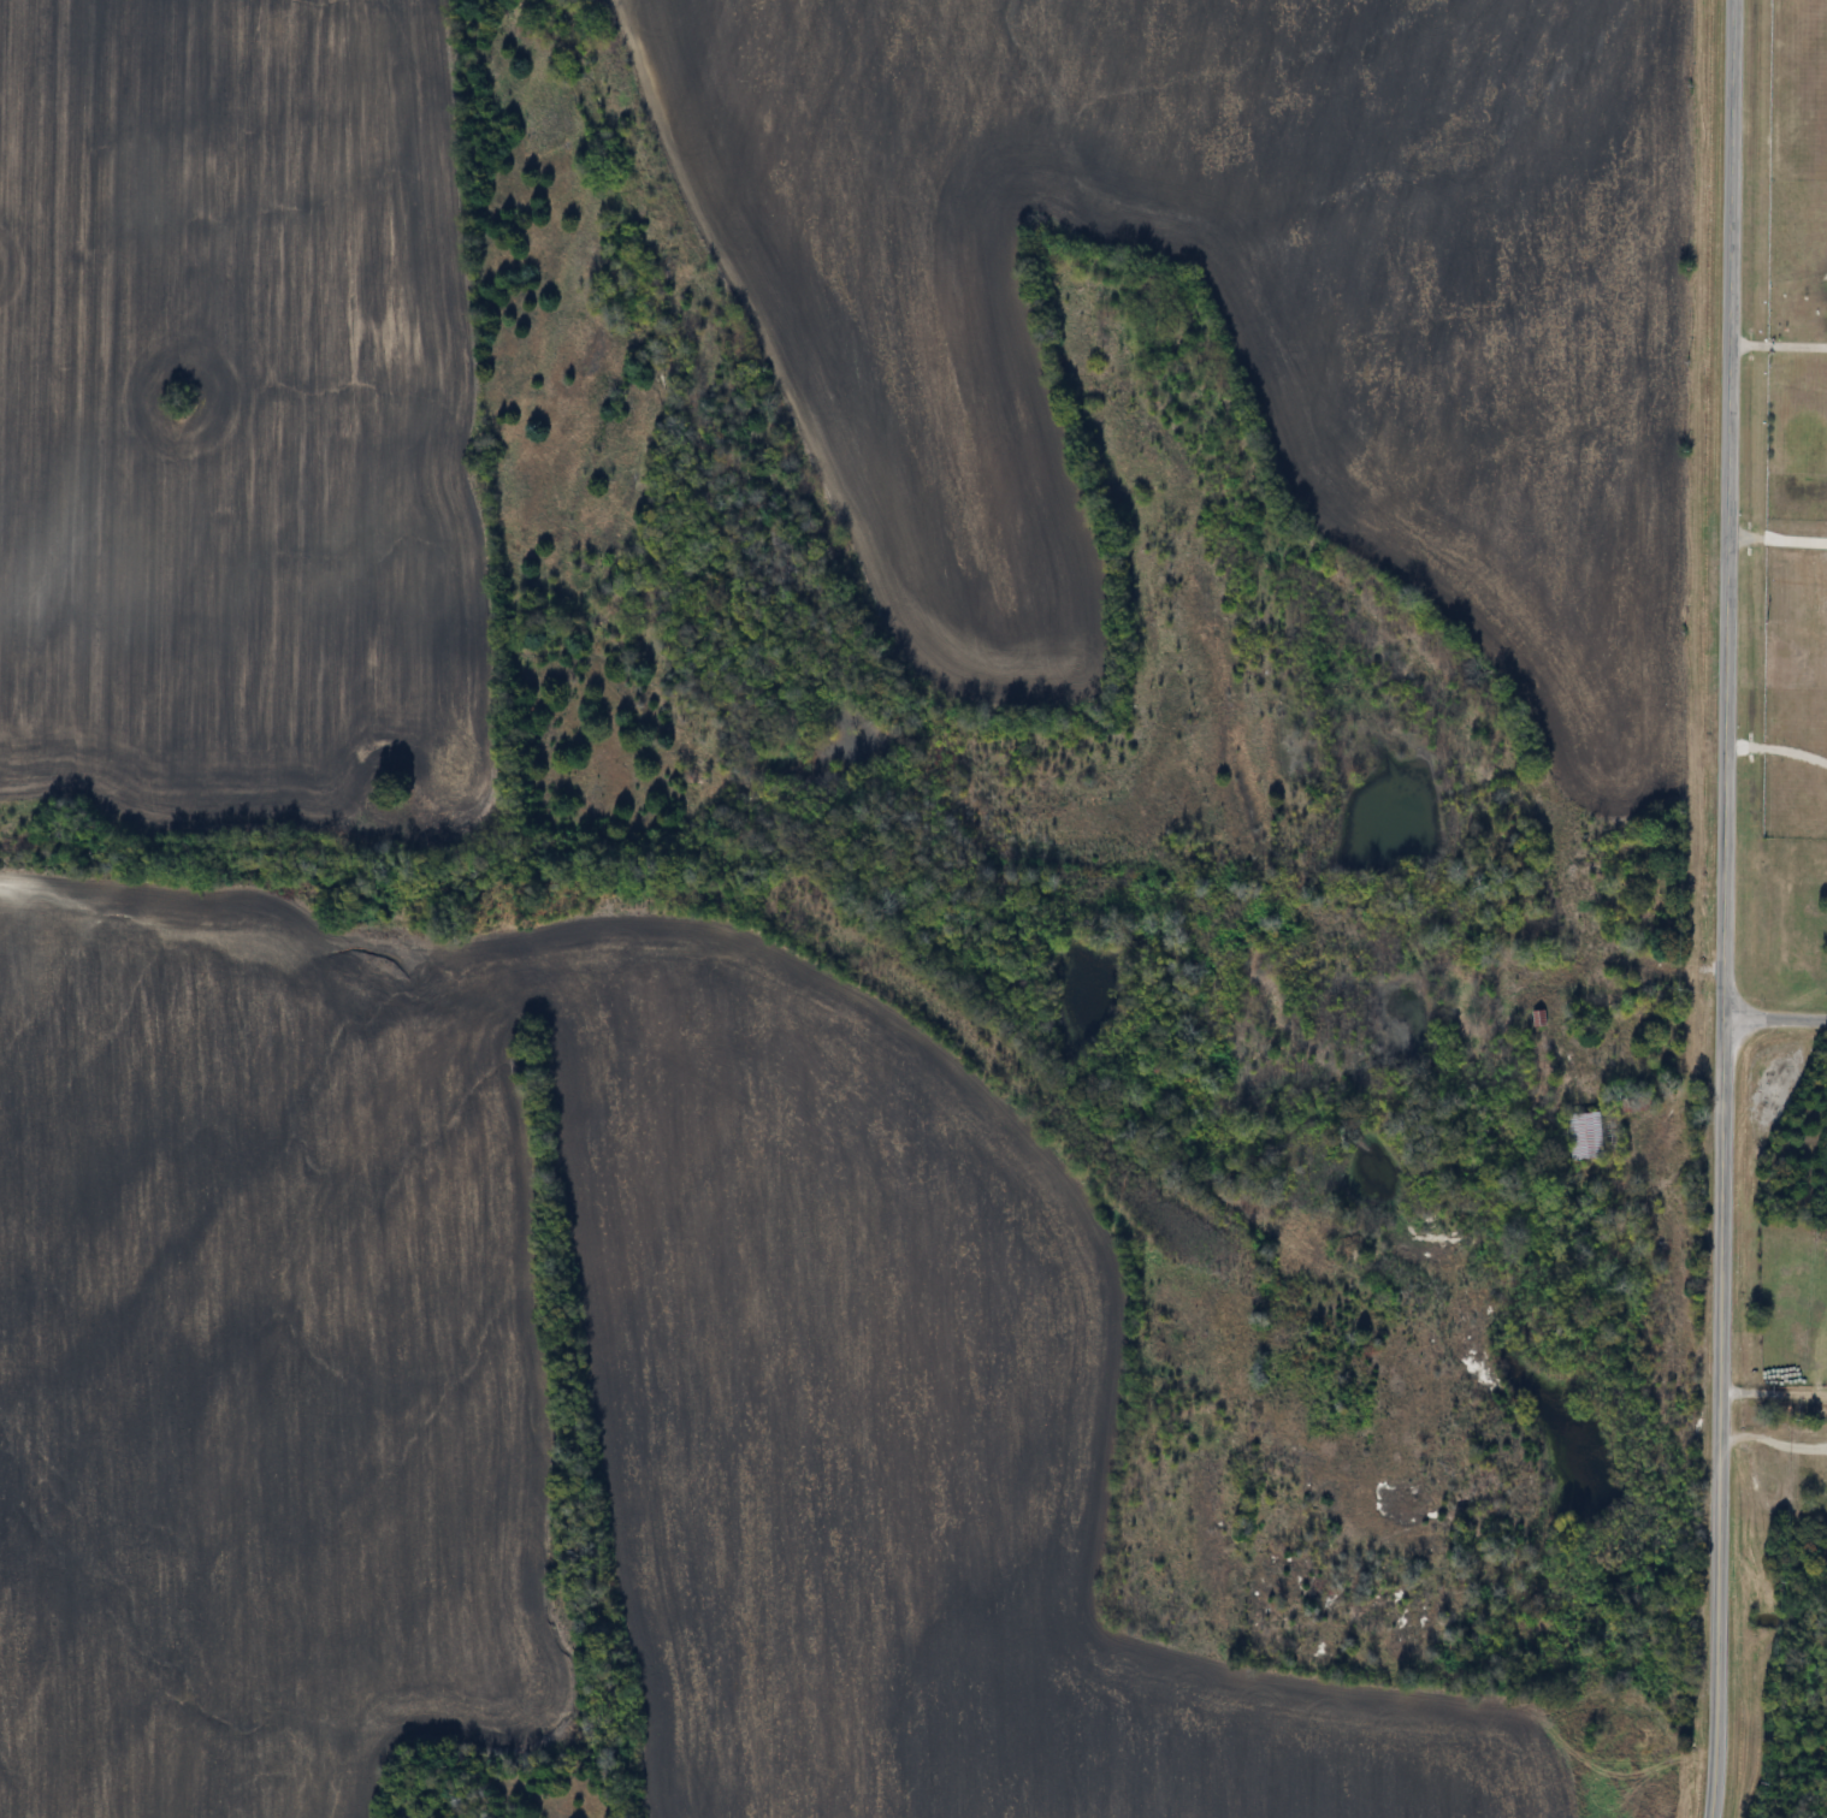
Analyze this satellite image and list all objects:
road: (1779, 347)
road: (1778, 537)
road: (1778, 747)
road: (1723, 908)
road: (1774, 1019)
building: (1541, 1020)
building: (1587, 1137)
road: (1773, 1391)
road: (1772, 1440)

